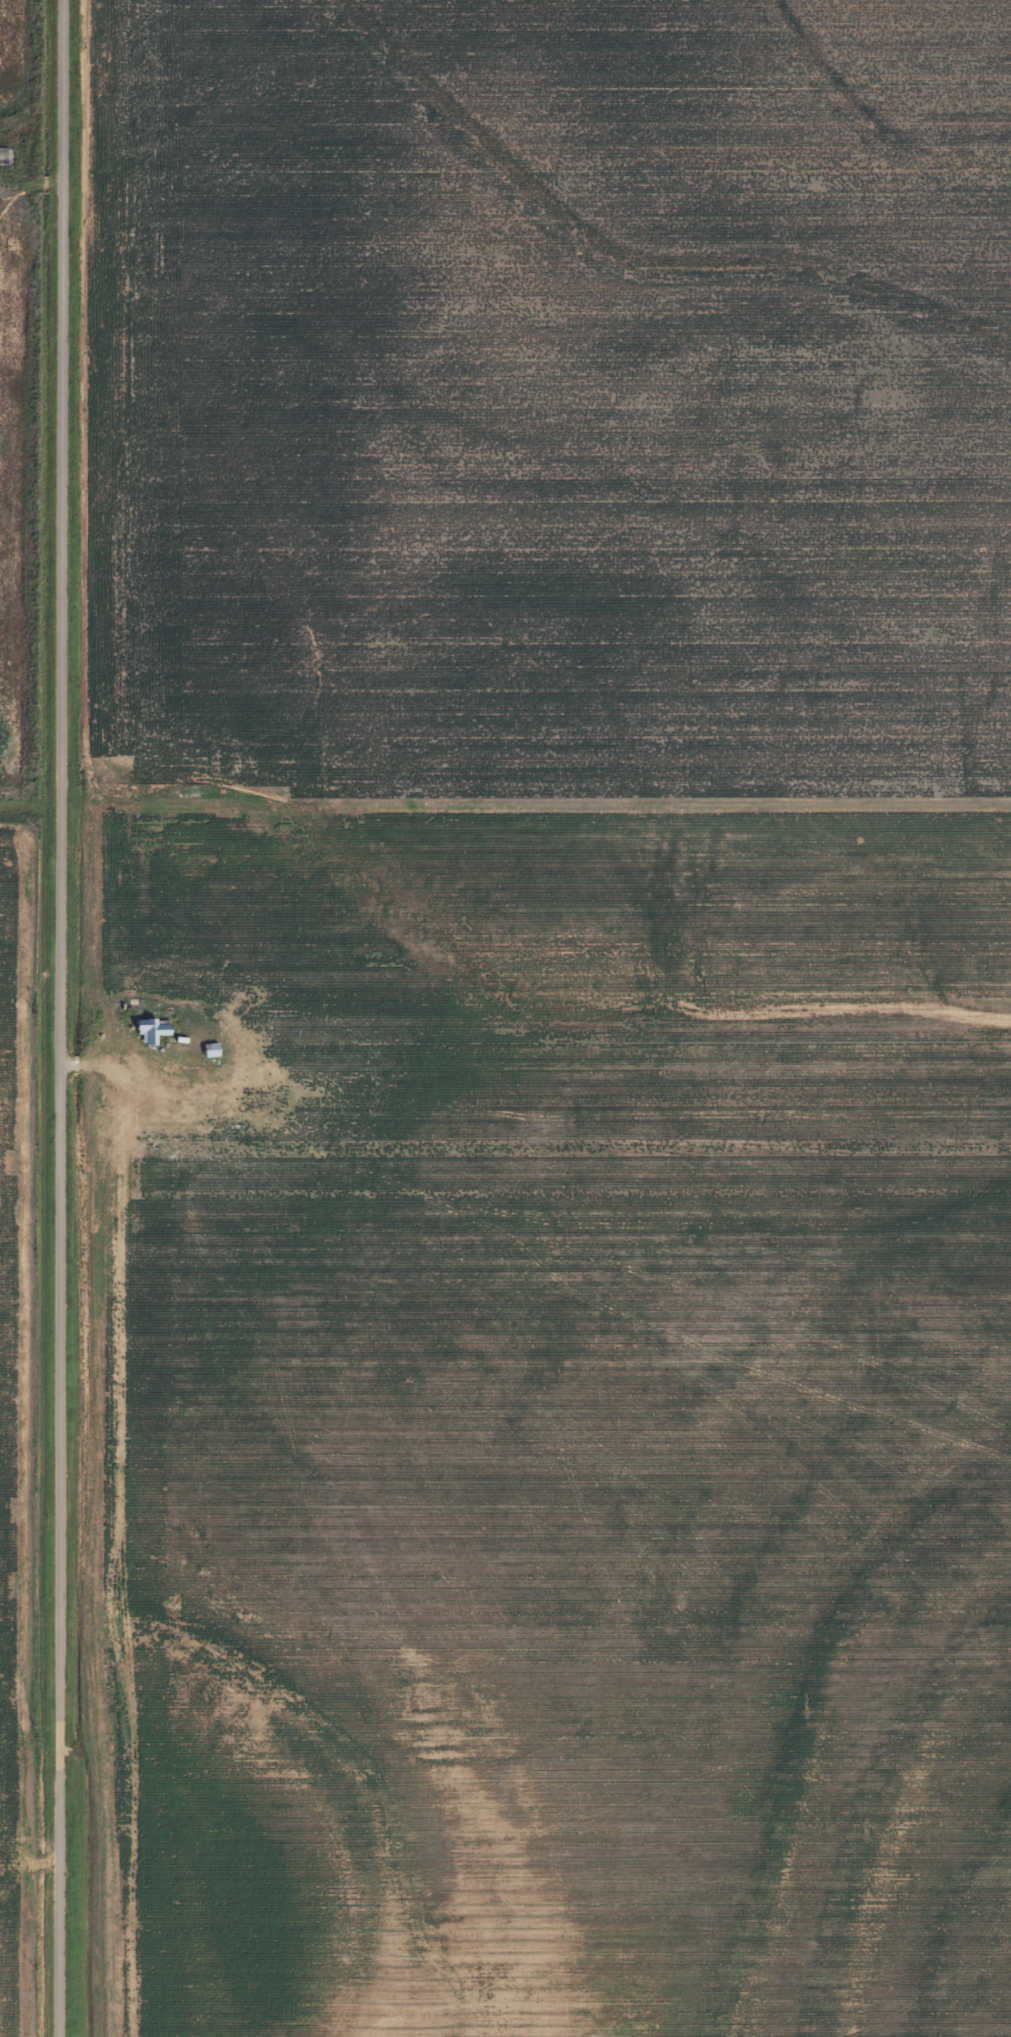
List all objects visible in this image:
road: (33, 184)
road: (64, 1018)
building: (154, 1031)
building: (213, 1050)
road: (120, 1061)

